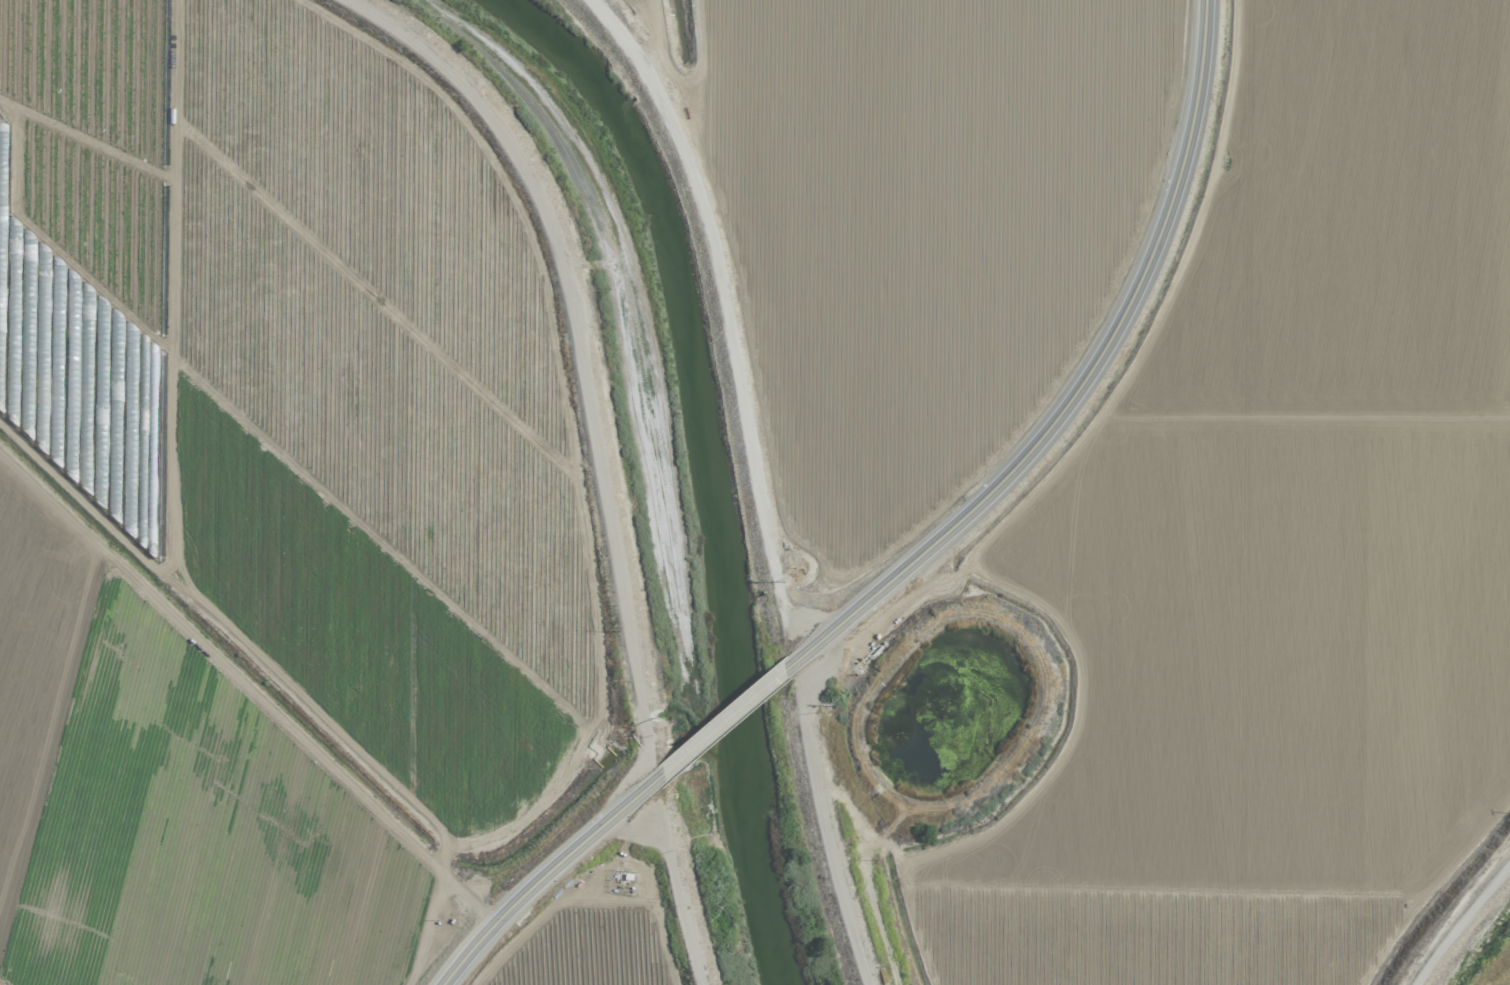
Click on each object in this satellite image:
crop: (917, 227)
road: (581, 361)
road: (1078, 385)
crop: (263, 501)
crop: (1180, 606)
road: (722, 722)
road: (545, 874)

